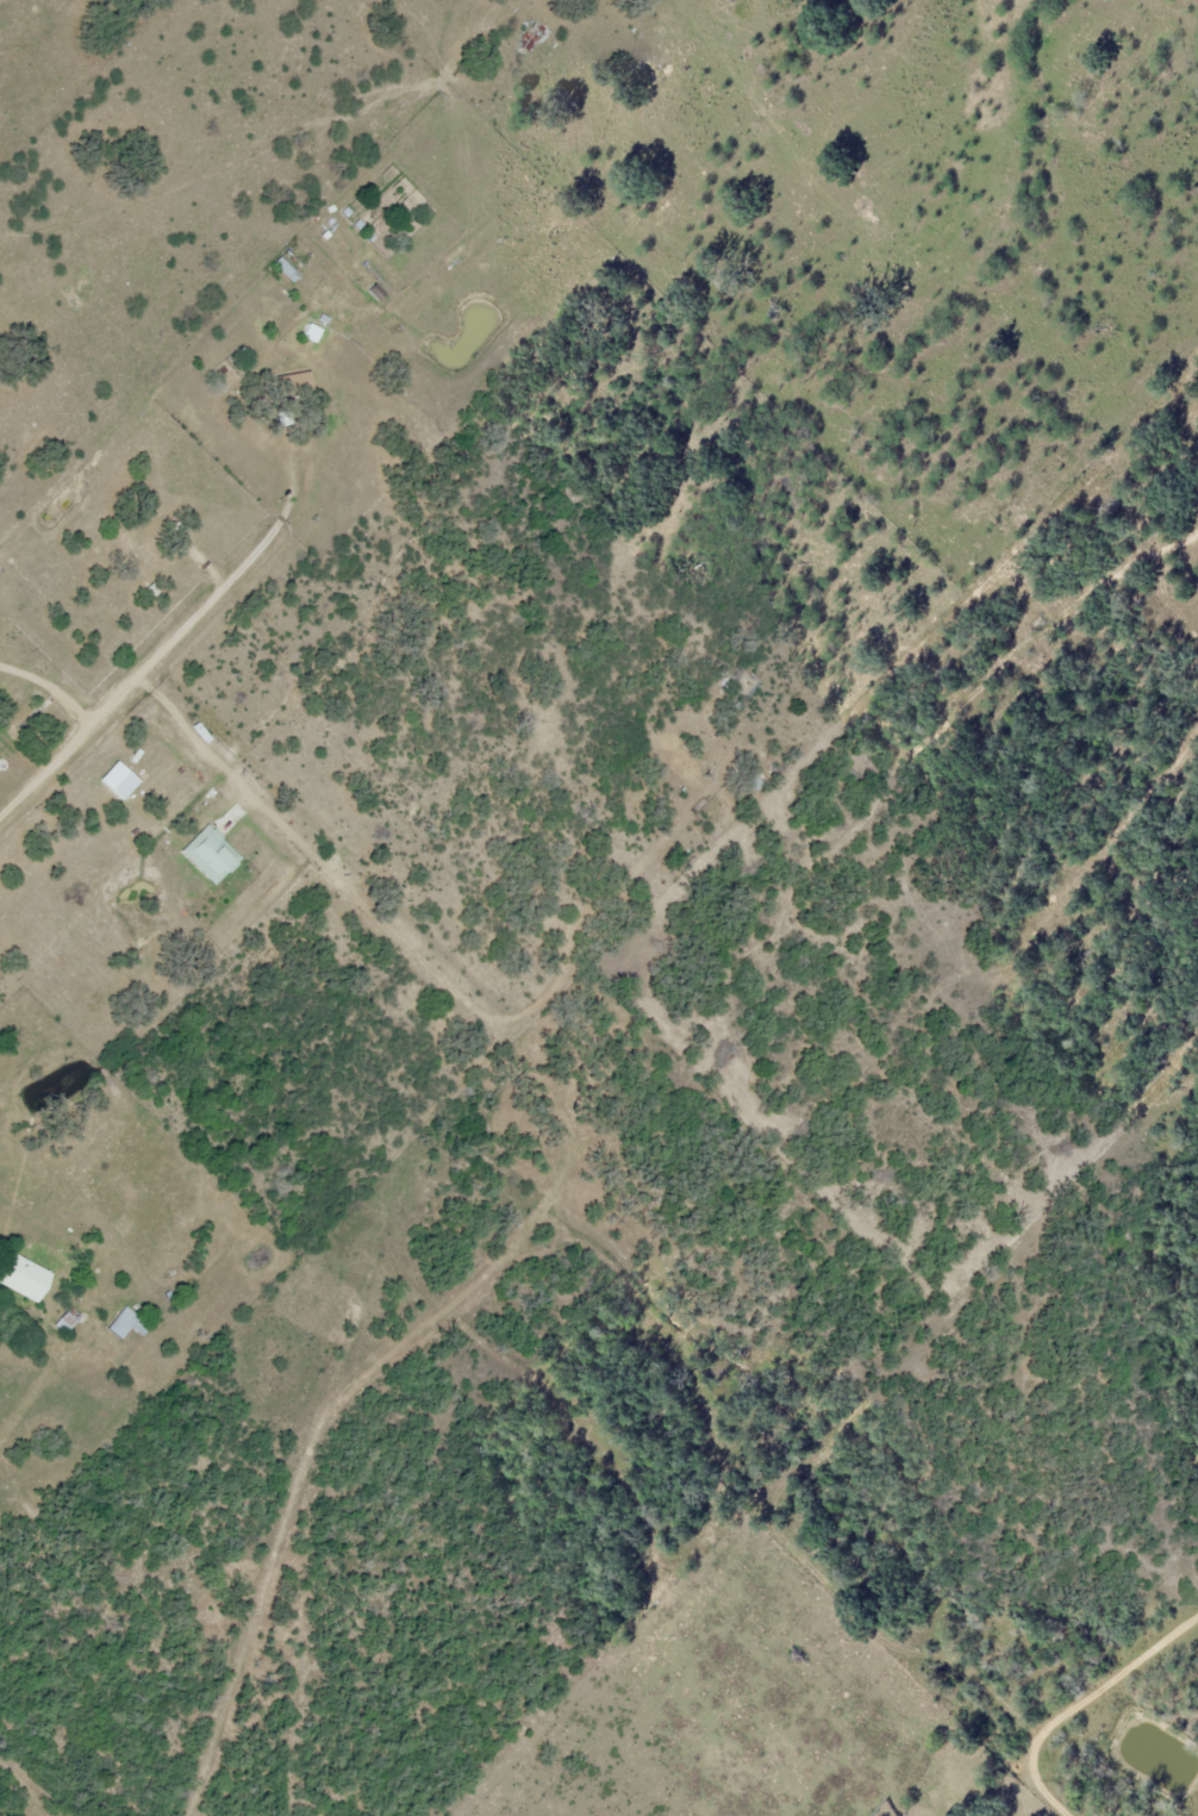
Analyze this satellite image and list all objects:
building: (534, 37)
building: (286, 264)
building: (292, 382)
building: (750, 776)
building: (211, 855)
road: (370, 911)
building: (23, 1278)
building: (67, 1321)
building: (129, 1324)
road: (355, 1381)
road: (1081, 1700)
road: (1028, 1798)

